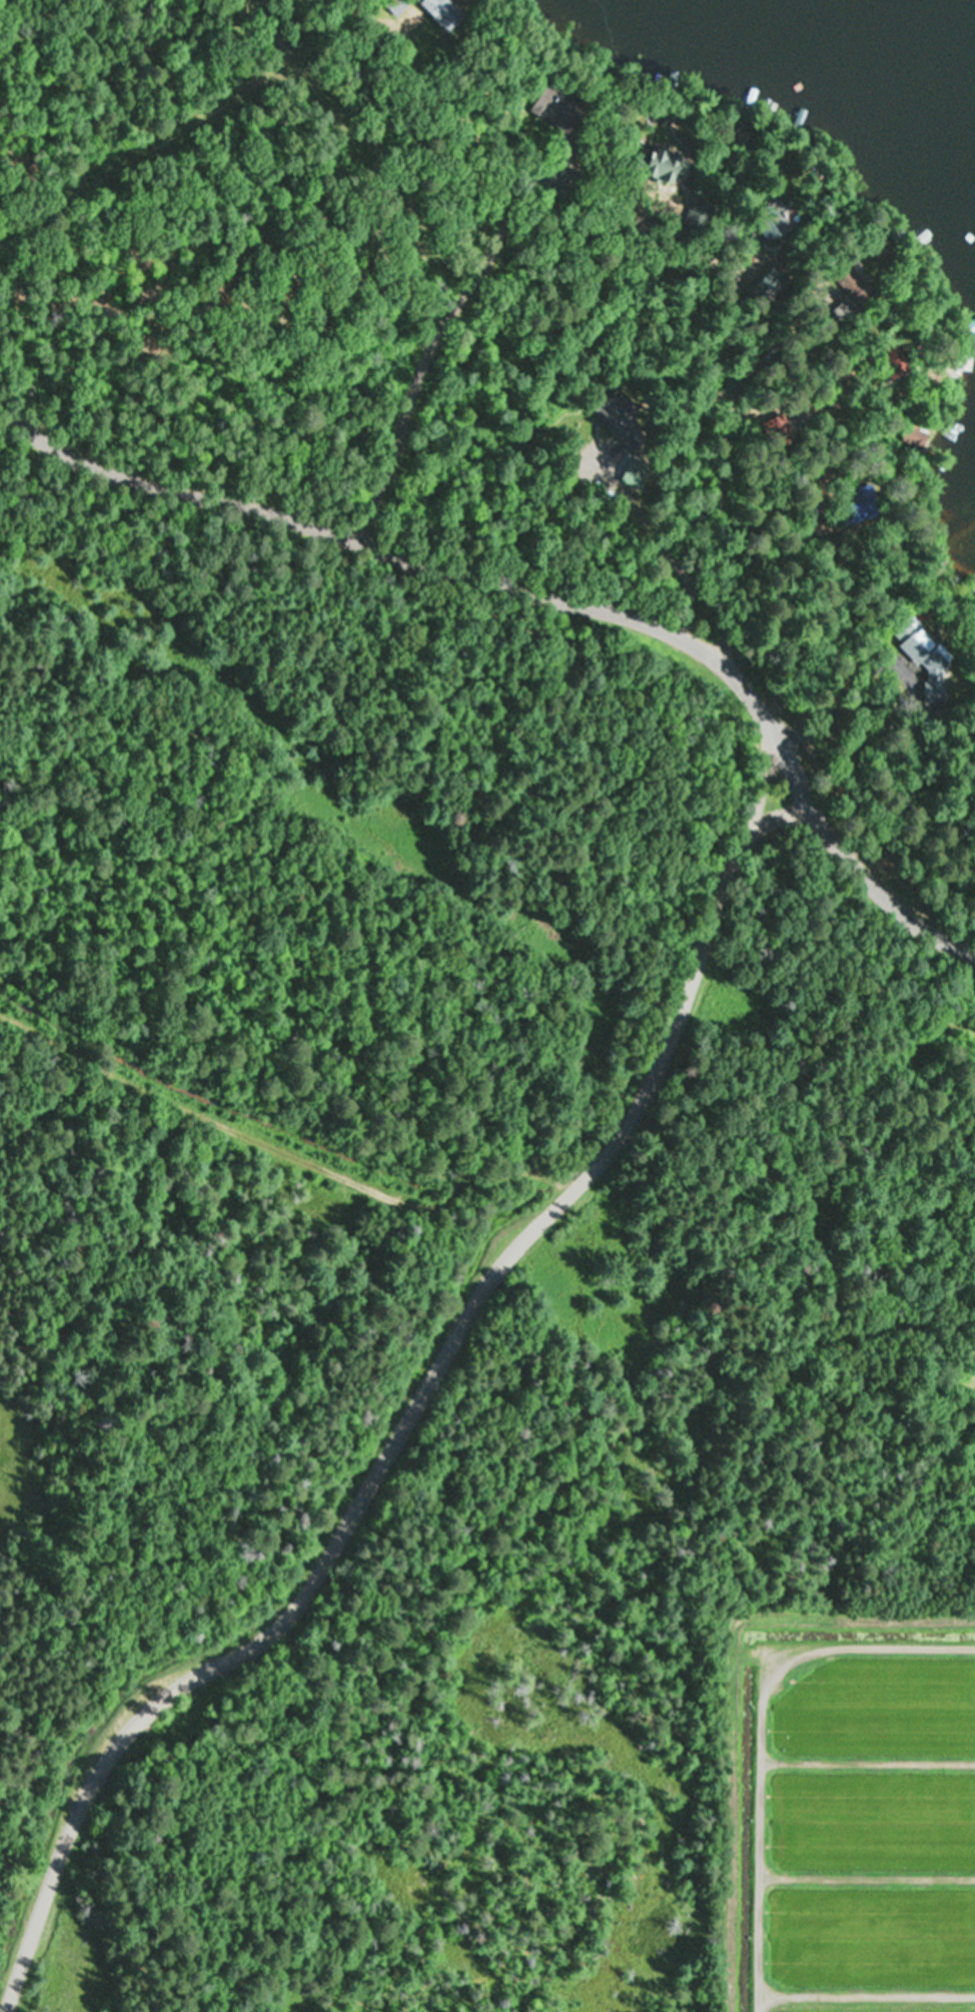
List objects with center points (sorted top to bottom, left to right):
building: (443, 13)
building: (552, 100)
building: (660, 163)
building: (772, 220)
building: (854, 283)
road: (721, 298)
building: (616, 415)
building: (915, 438)
building: (636, 474)
building: (866, 501)
road: (543, 589)
building: (923, 647)
road: (264, 1108)
road: (222, 1168)
road: (407, 1413)
crop: (851, 1815)

